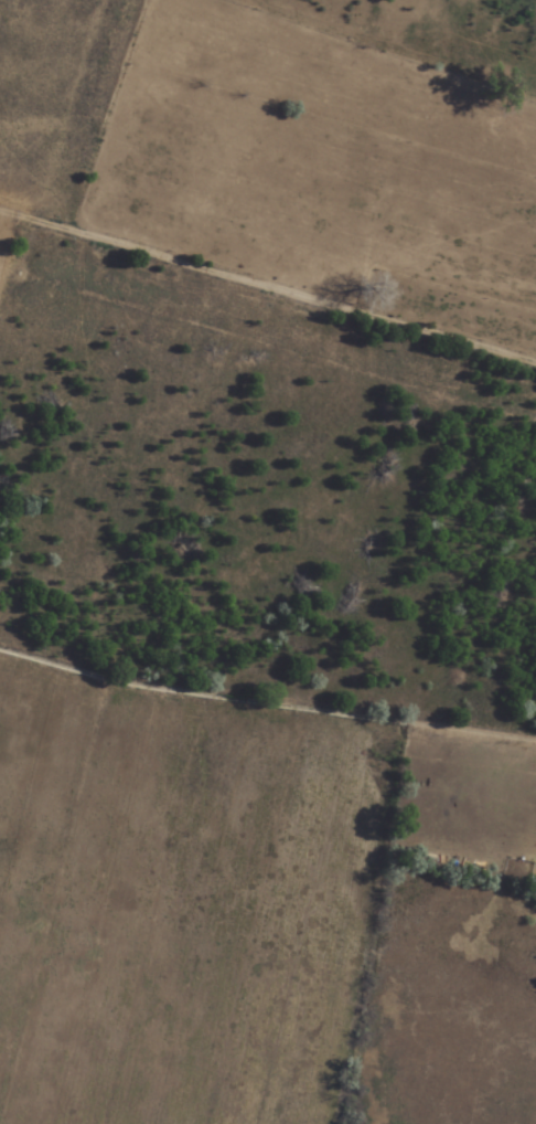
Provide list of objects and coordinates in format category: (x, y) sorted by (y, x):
road: (505, 14)
road: (268, 433)

